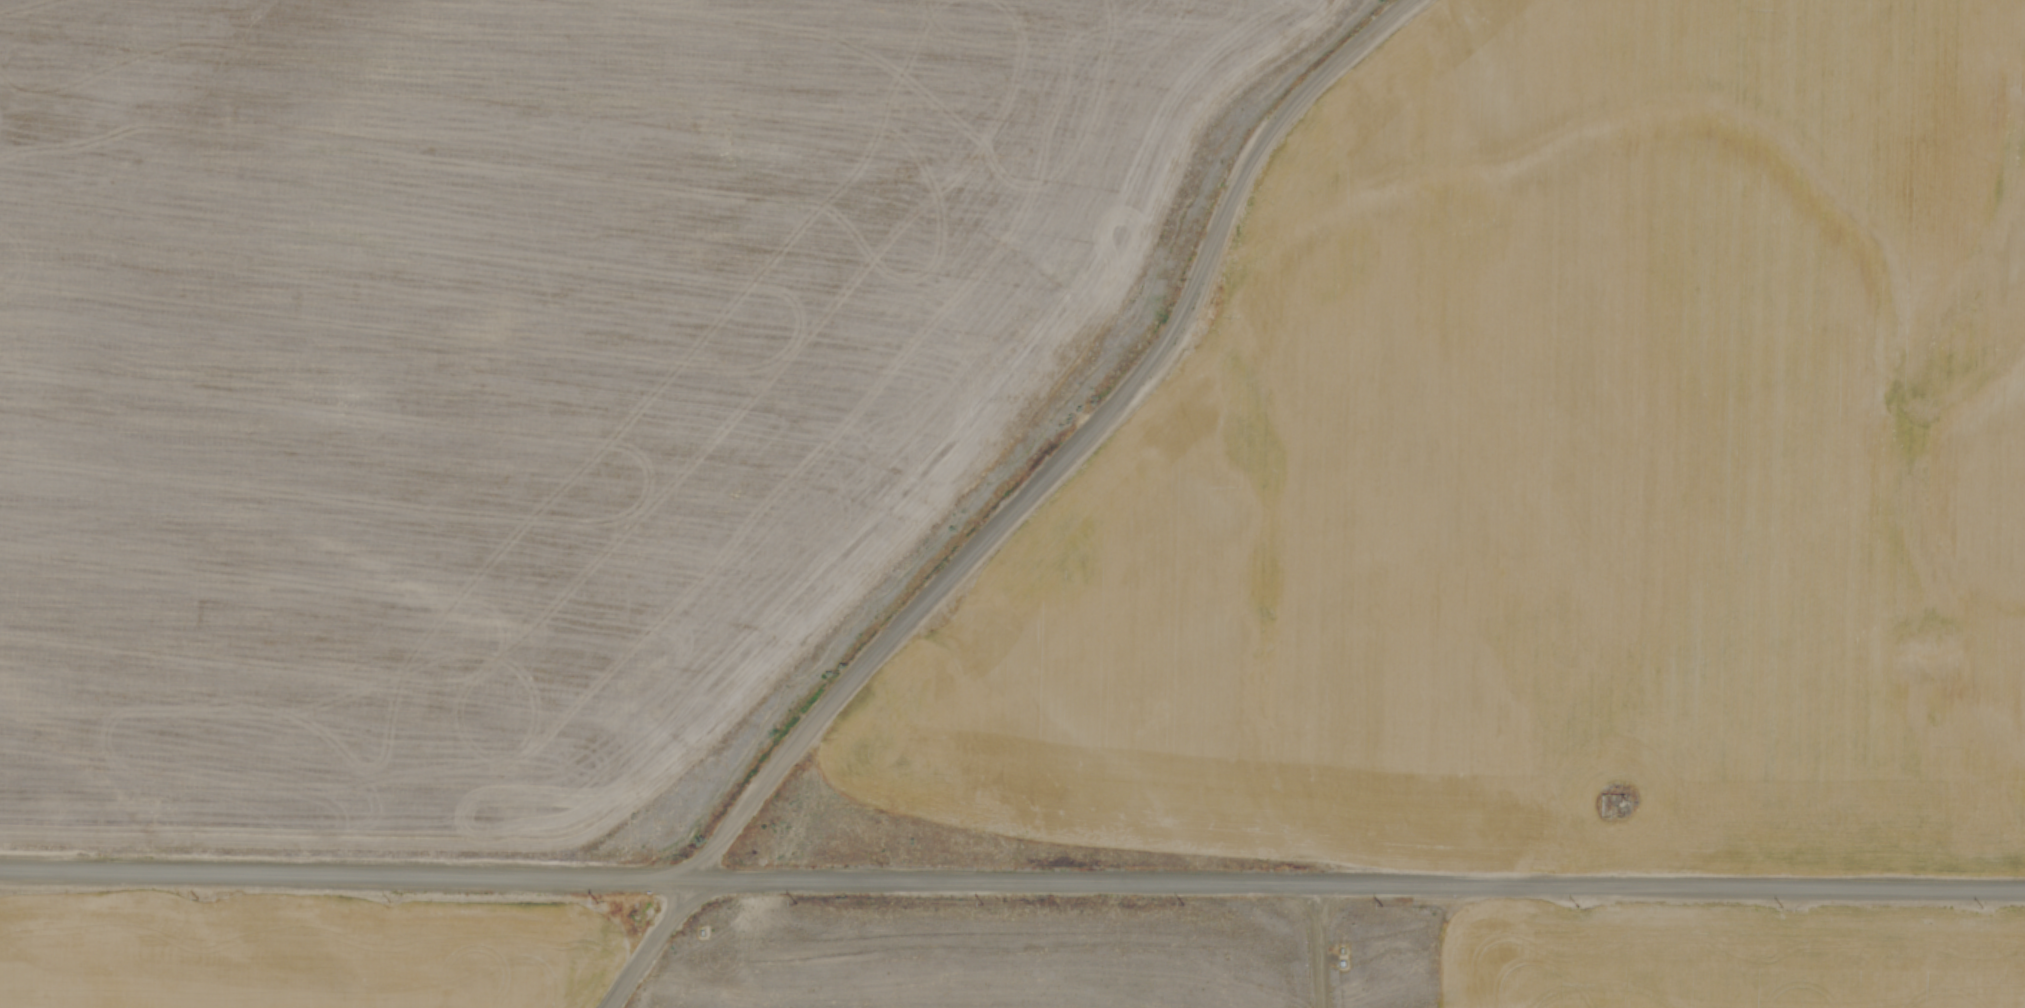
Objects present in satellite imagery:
road: (1005, 506)
road: (1012, 877)
road: (1314, 943)

